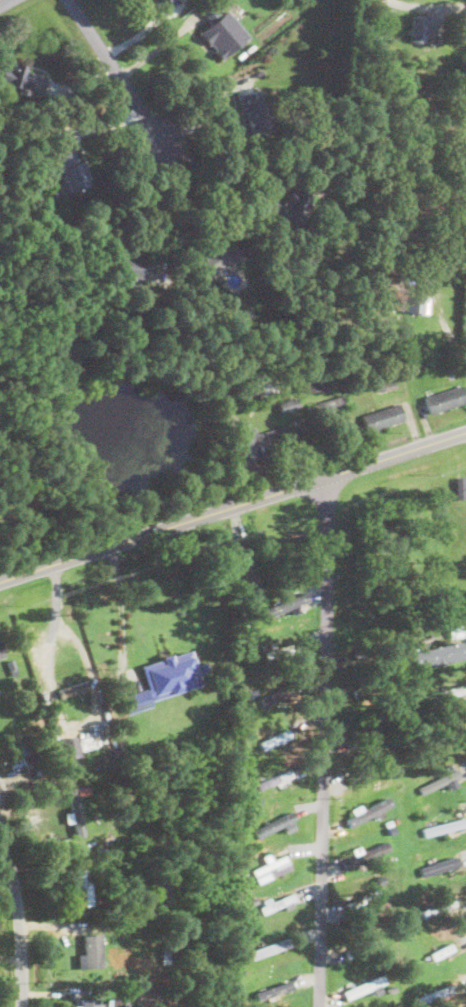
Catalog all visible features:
road: (4, 2)
road: (427, 4)
building: (418, 27)
building: (223, 32)
road: (115, 68)
building: (22, 77)
building: (251, 112)
road: (203, 114)
building: (69, 168)
road: (185, 196)
road: (157, 198)
building: (288, 207)
building: (216, 258)
building: (132, 266)
building: (417, 303)
road: (446, 325)
building: (445, 397)
building: (288, 403)
building: (382, 415)
building: (259, 440)
road: (233, 506)
building: (249, 564)
building: (286, 603)
road: (120, 614)
building: (1, 651)
building: (439, 653)
building: (164, 678)
building: (72, 687)
building: (272, 697)
road: (61, 716)
road: (322, 741)
building: (71, 744)
building: (367, 810)
building: (74, 812)
building: (276, 824)
building: (444, 826)
building: (437, 864)
building: (271, 868)
building: (82, 881)
road: (20, 913)
building: (269, 947)
building: (90, 950)
building: (364, 986)
building: (273, 989)
building: (118, 1001)
building: (88, 1002)

